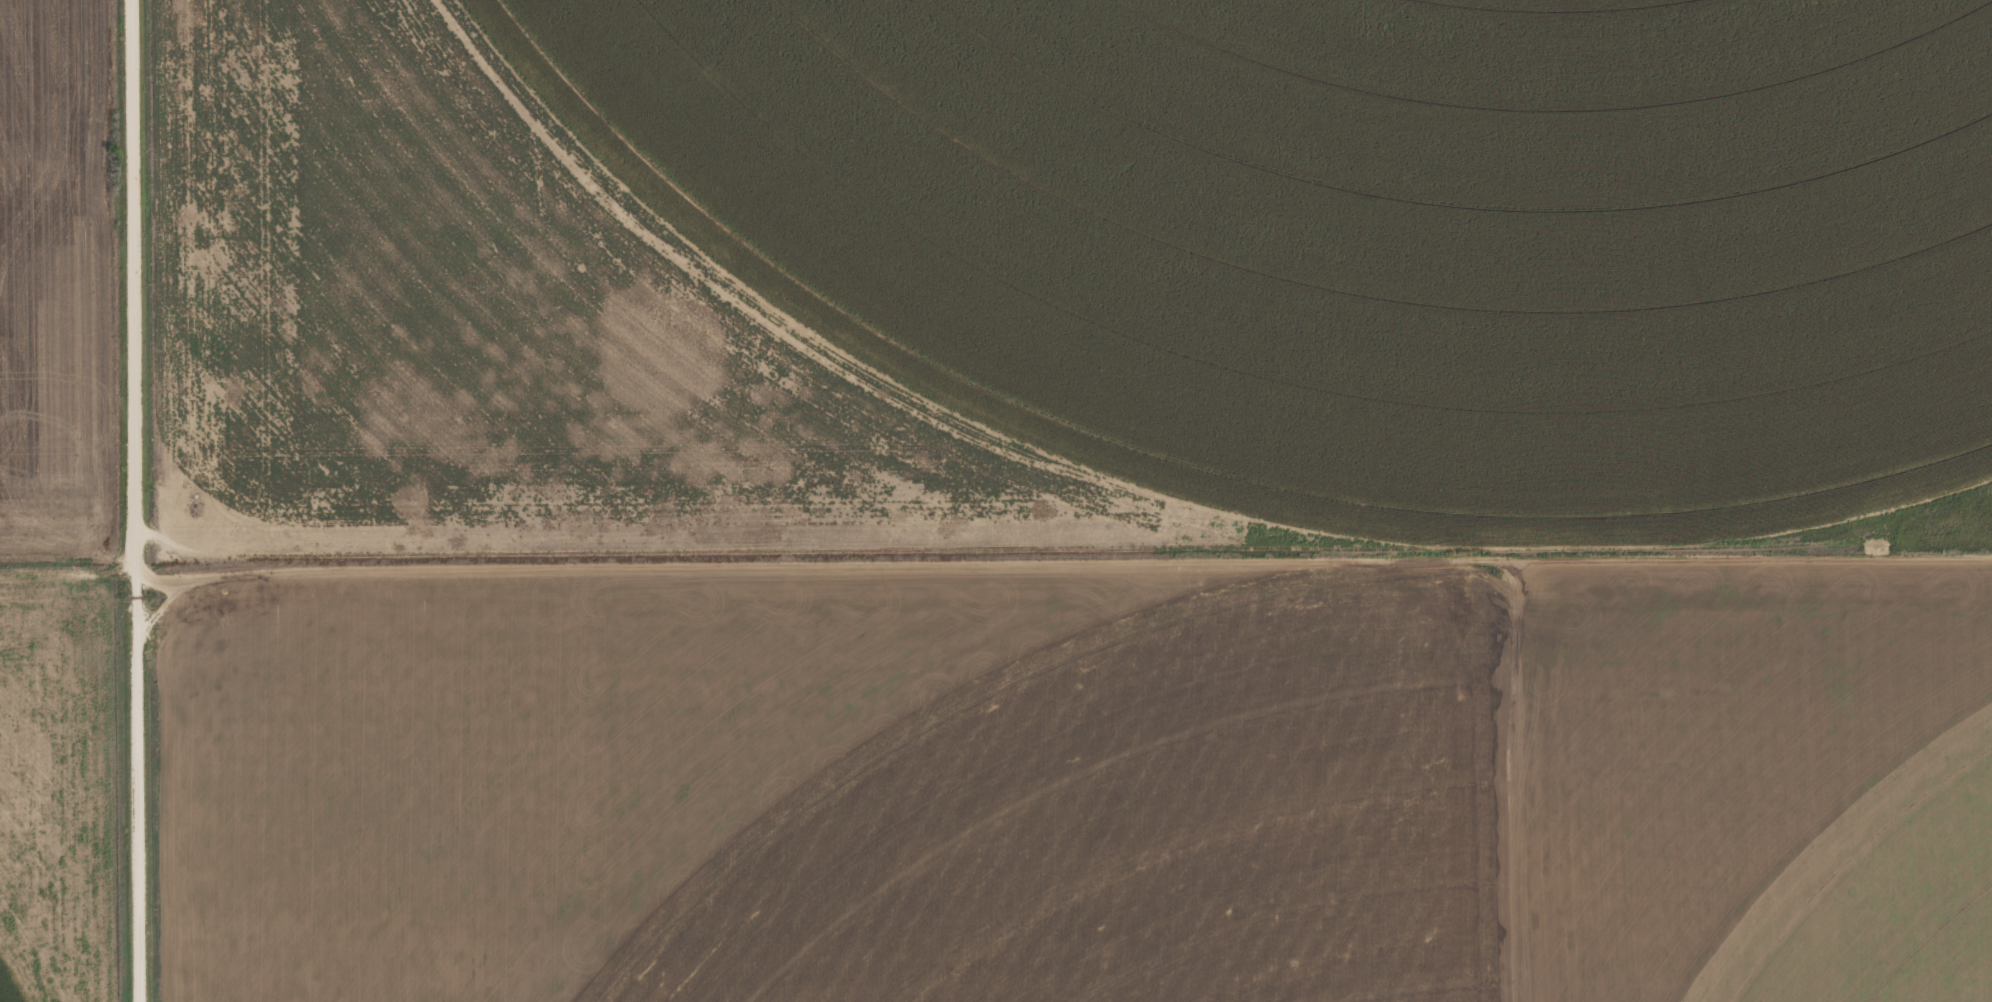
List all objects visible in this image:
road: (146, 501)

